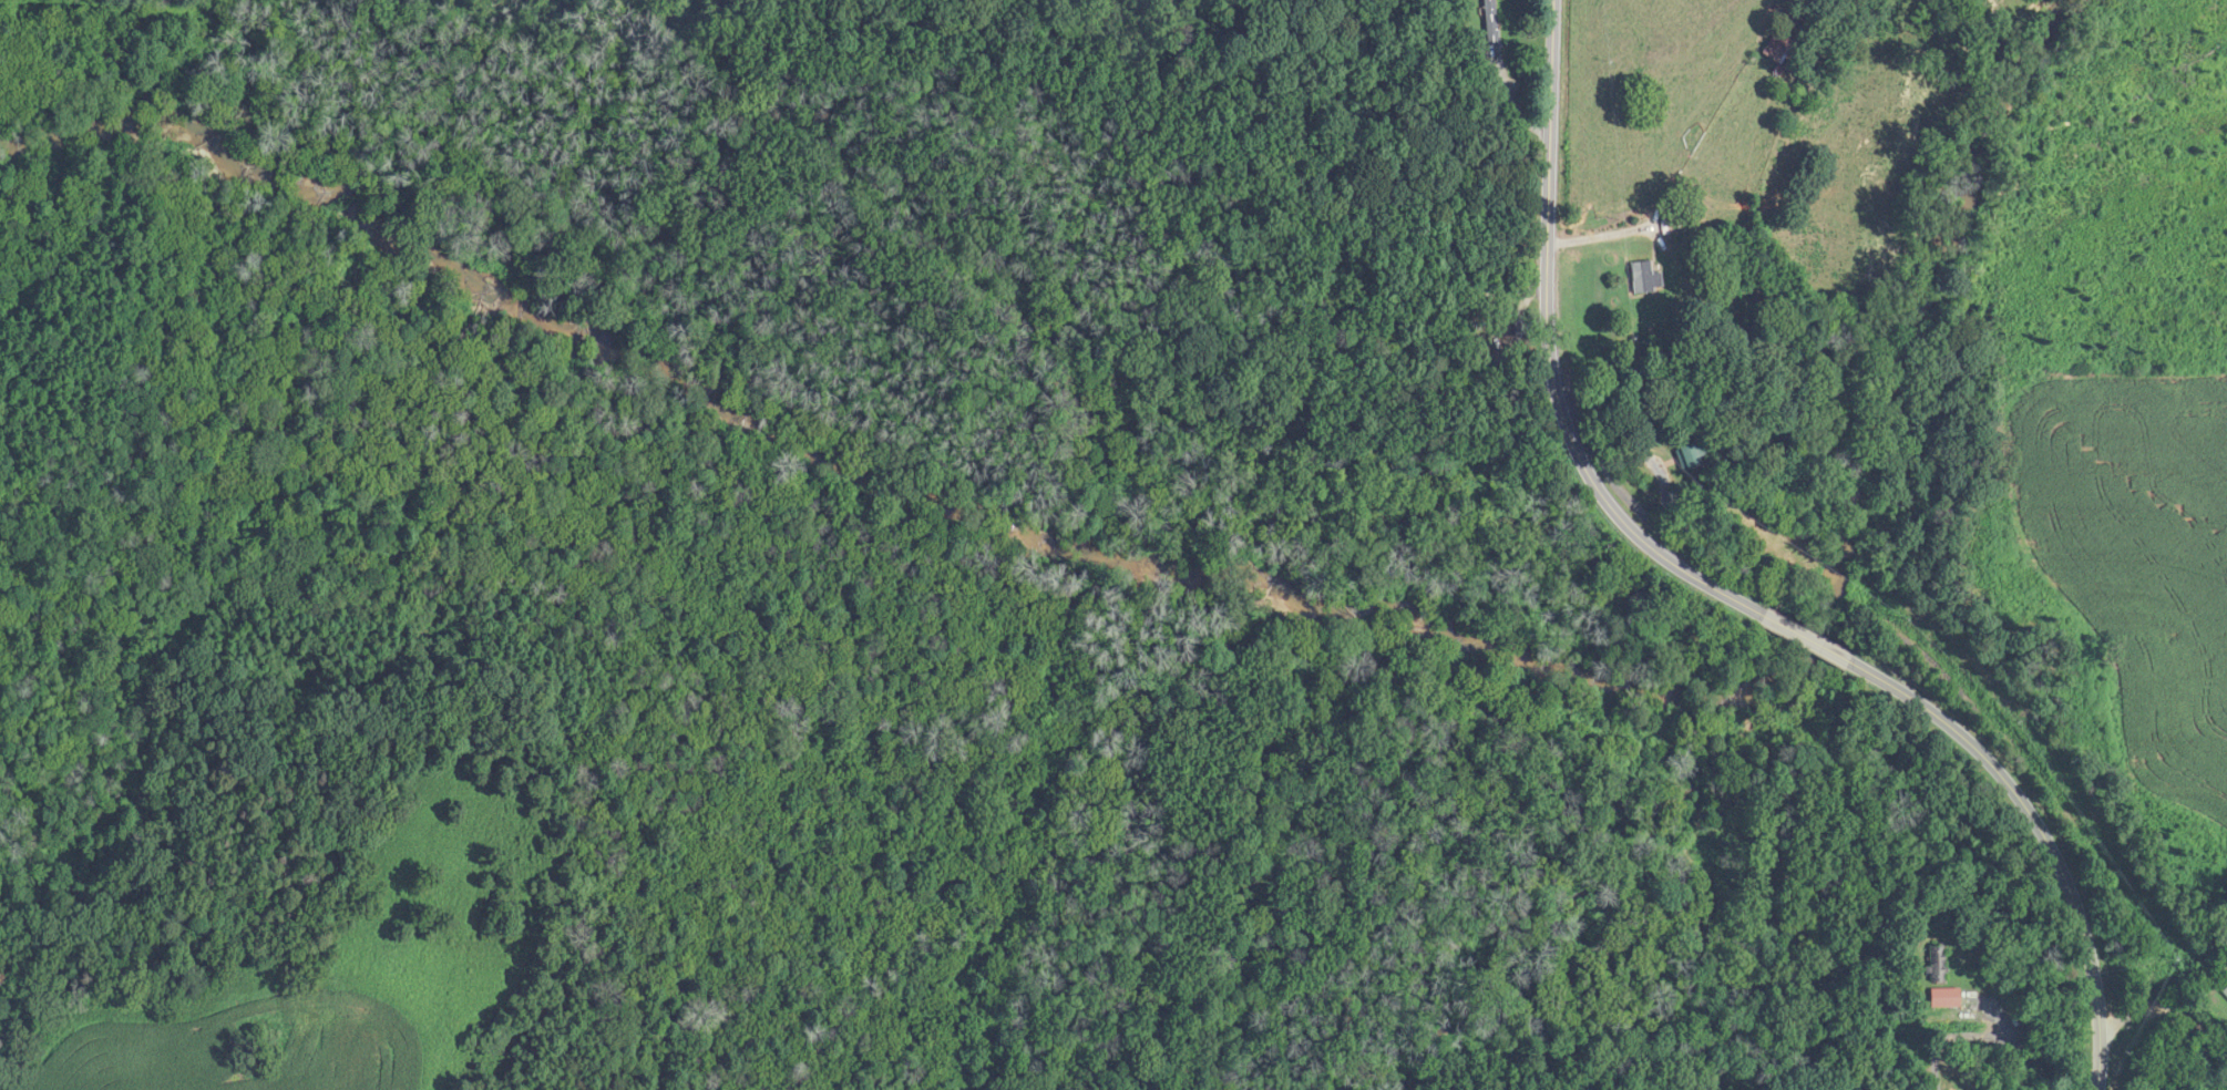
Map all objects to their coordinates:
building: (1491, 17)
building: (1774, 48)
building: (1643, 279)
building: (1684, 457)
road: (1726, 595)
building: (1948, 998)
road: (2164, 1010)
road: (1982, 1034)

